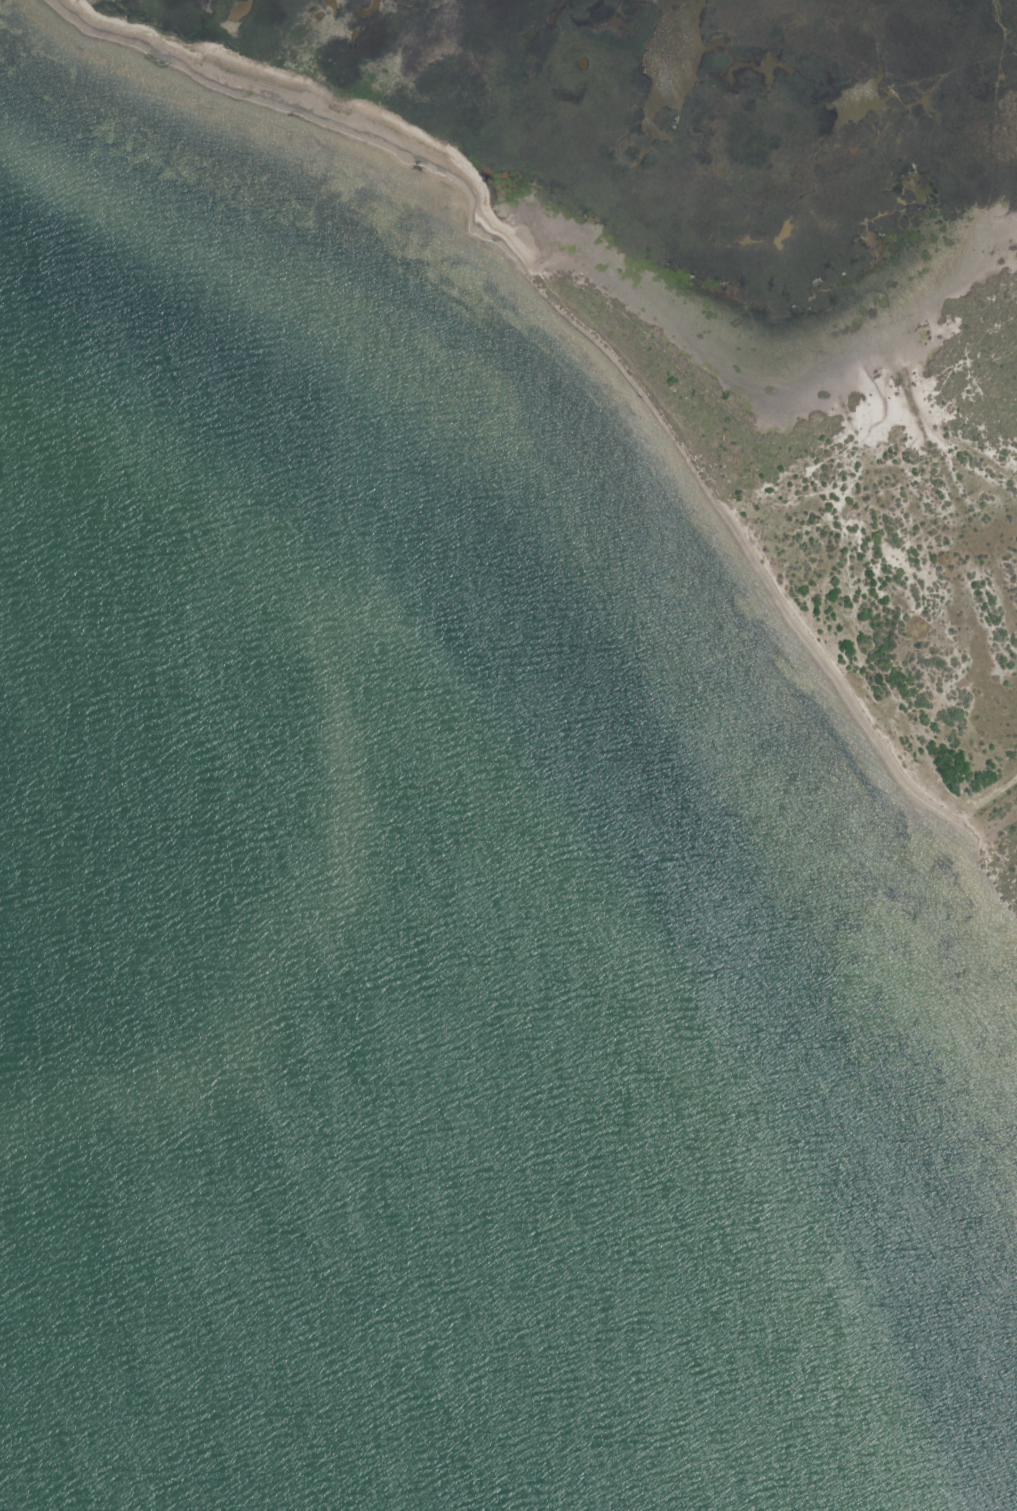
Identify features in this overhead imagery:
road: (995, 791)

